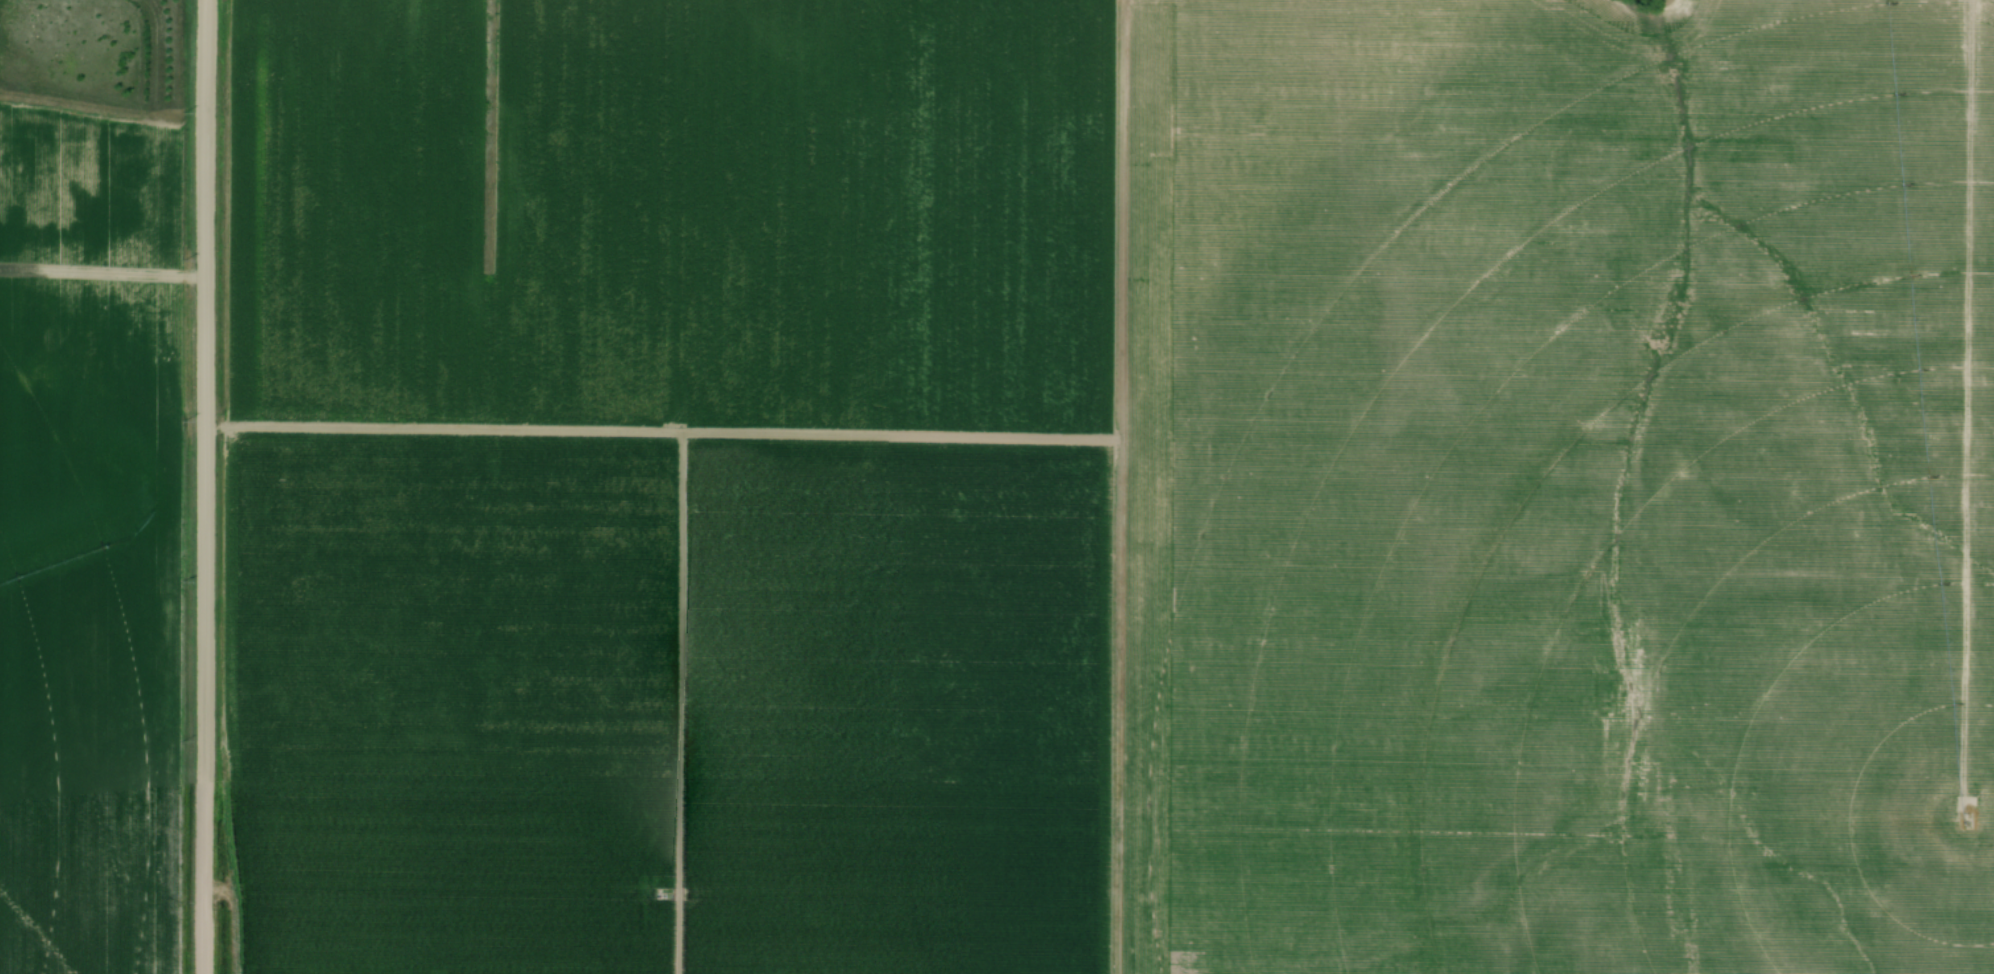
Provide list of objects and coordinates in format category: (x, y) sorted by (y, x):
road: (206, 487)

